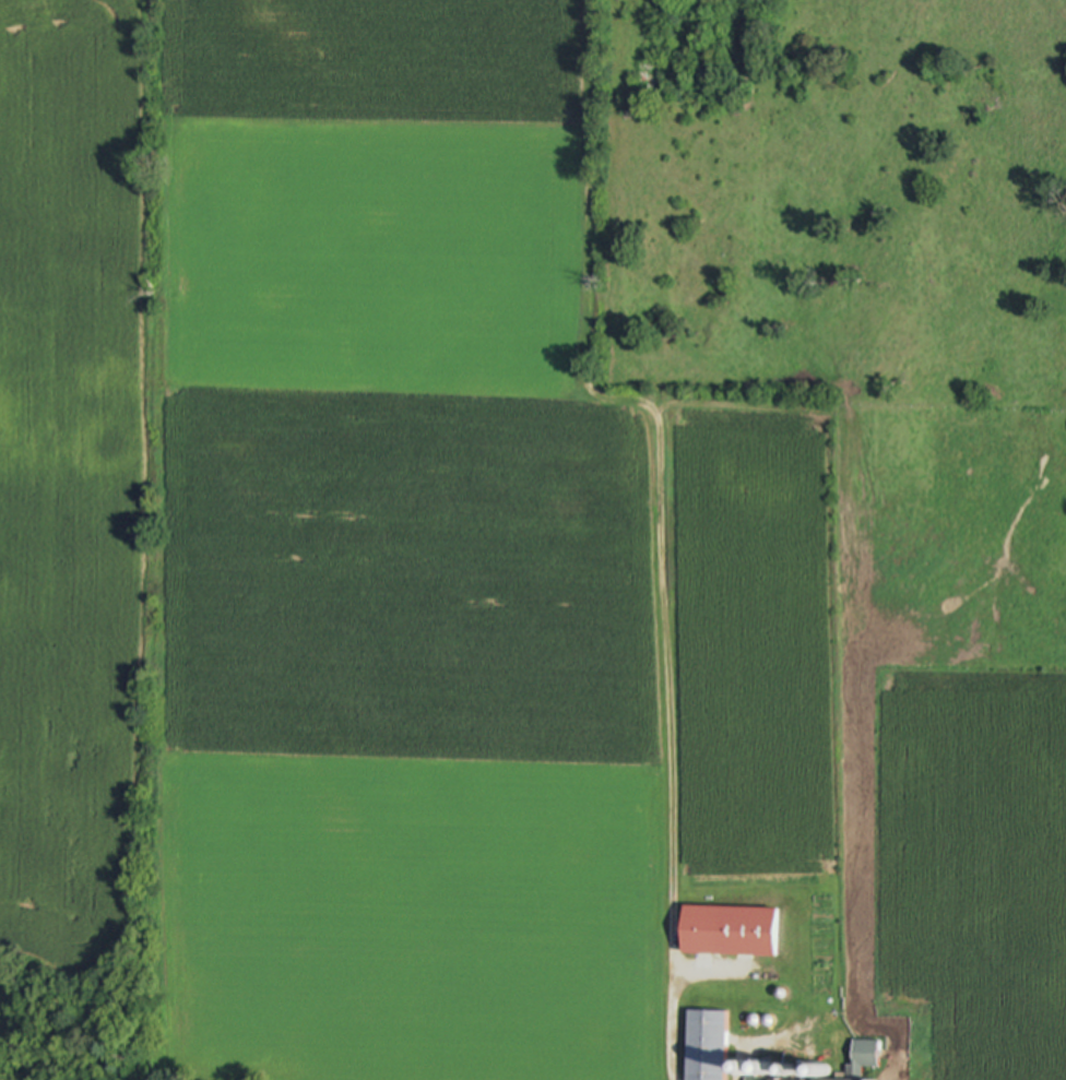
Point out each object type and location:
building: (729, 934)
road: (673, 1021)
building: (706, 1046)
building: (862, 1059)

